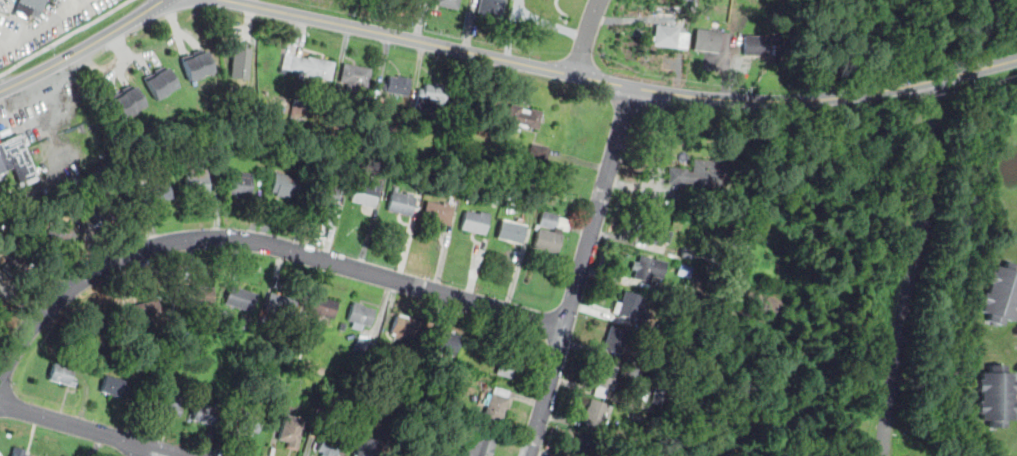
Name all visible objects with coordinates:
building: (447, 3)
building: (490, 7)
building: (30, 9)
road: (587, 36)
building: (668, 37)
building: (709, 42)
building: (756, 46)
road: (84, 48)
building: (240, 61)
building: (197, 65)
building: (306, 67)
building: (355, 76)
building: (161, 83)
road: (623, 85)
building: (398, 86)
road: (981, 87)
road: (940, 96)
building: (431, 97)
building: (129, 101)
building: (298, 107)
building: (524, 117)
building: (376, 130)
building: (538, 154)
building: (15, 157)
building: (698, 174)
building: (286, 183)
building: (198, 184)
building: (241, 184)
building: (367, 193)
building: (156, 194)
building: (327, 194)
building: (402, 204)
building: (108, 212)
building: (438, 213)
building: (548, 220)
building: (476, 222)
building: (750, 222)
building: (537, 227)
building: (511, 232)
building: (657, 232)
building: (62, 235)
road: (258, 241)
building: (548, 242)
road: (911, 268)
building: (21, 270)
road: (579, 271)
building: (693, 271)
building: (644, 273)
building: (1002, 295)
building: (0, 296)
building: (200, 296)
building: (241, 299)
park: (834, 303)
building: (1, 304)
building: (280, 305)
building: (630, 306)
building: (322, 308)
building: (147, 312)
building: (361, 315)
building: (245, 319)
building: (343, 327)
building: (407, 328)
building: (662, 329)
building: (354, 331)
building: (615, 340)
building: (445, 343)
building: (364, 349)
building: (507, 364)
building: (317, 370)
building: (633, 373)
building: (62, 376)
building: (604, 377)
building: (114, 387)
building: (657, 393)
building: (997, 397)
building: (171, 405)
building: (495, 409)
building: (595, 414)
building: (204, 416)
building: (637, 418)
building: (249, 425)
road: (89, 429)
building: (292, 432)
building: (330, 446)
building: (584, 446)
building: (478, 447)
building: (369, 448)
road: (150, 452)
building: (17, 453)
building: (394, 455)
building: (402, 455)

